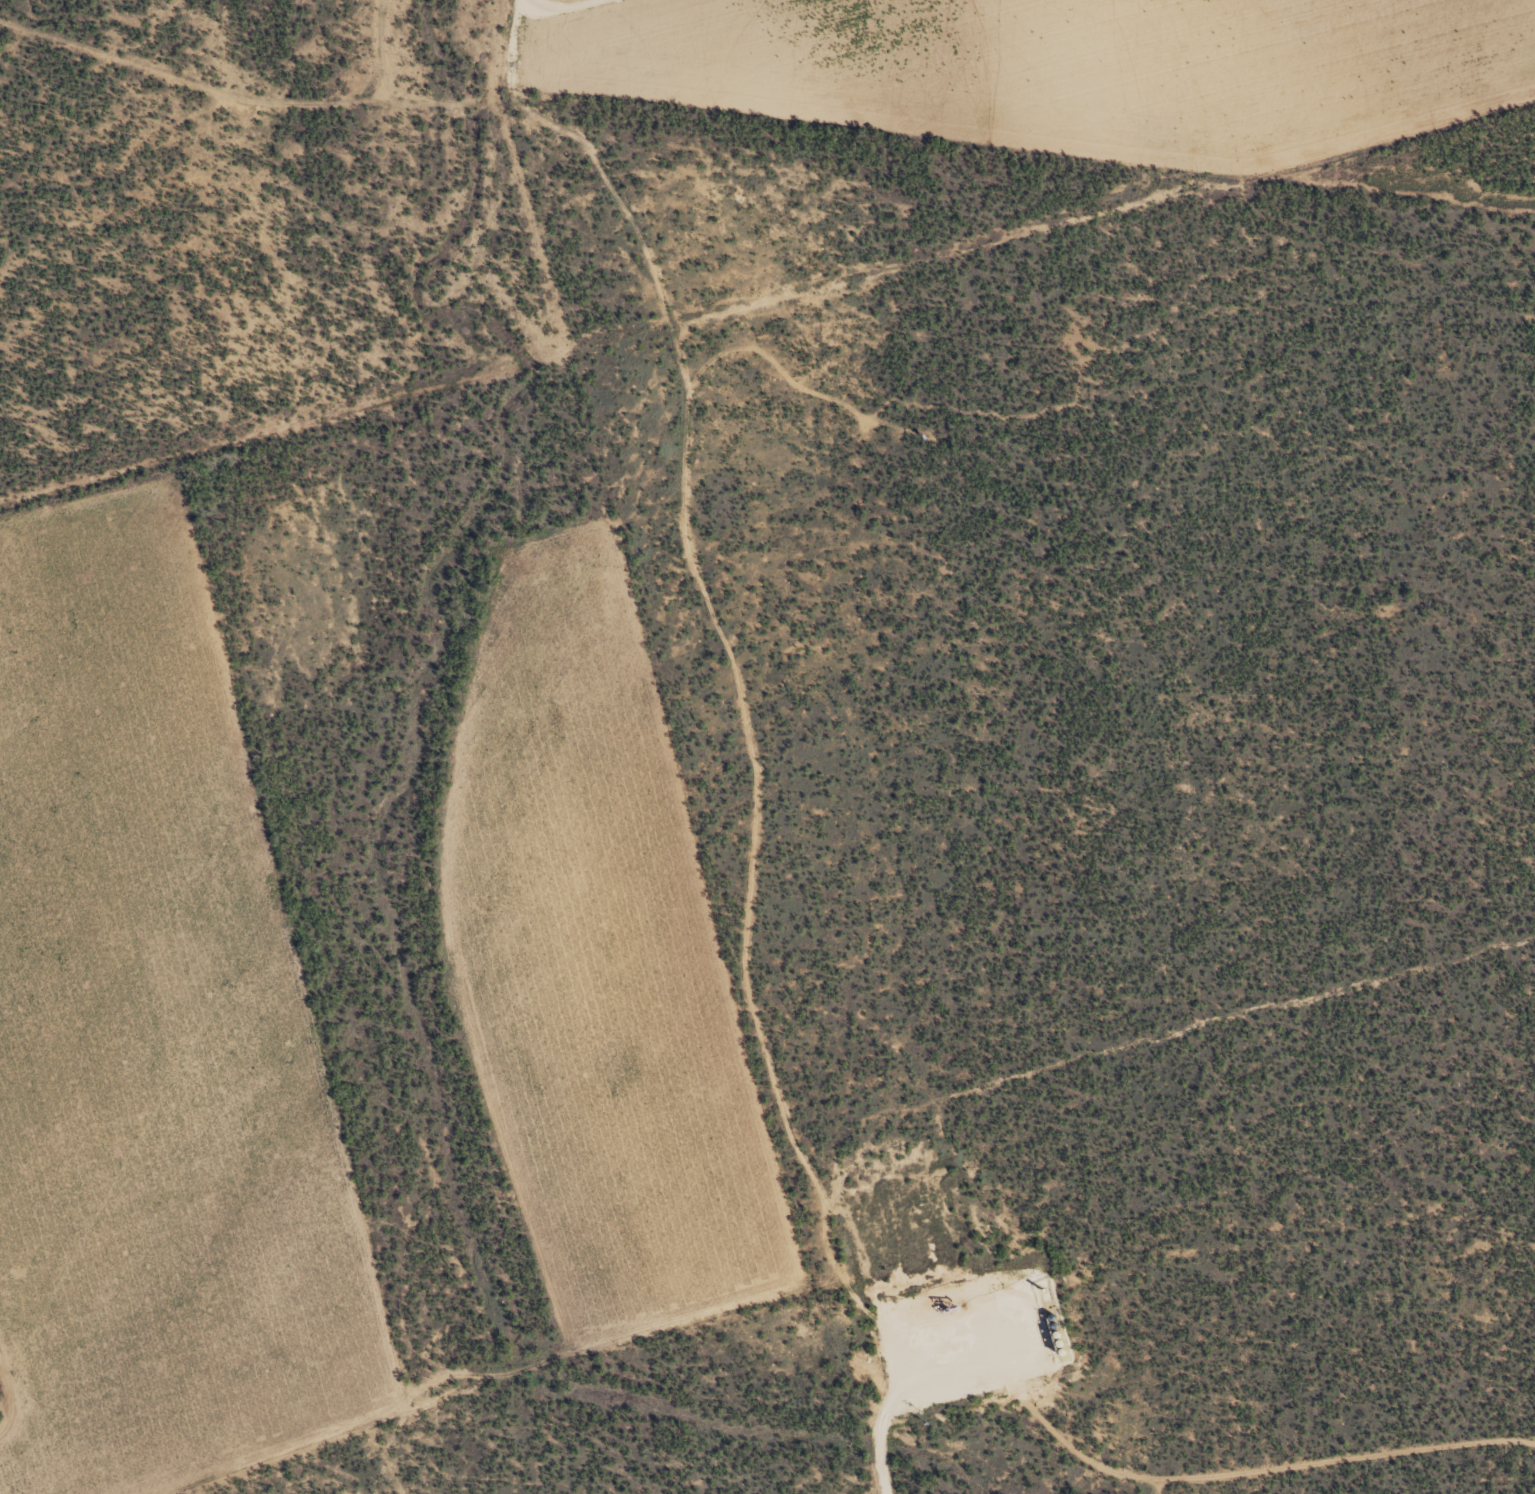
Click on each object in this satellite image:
road: (169, 444)

